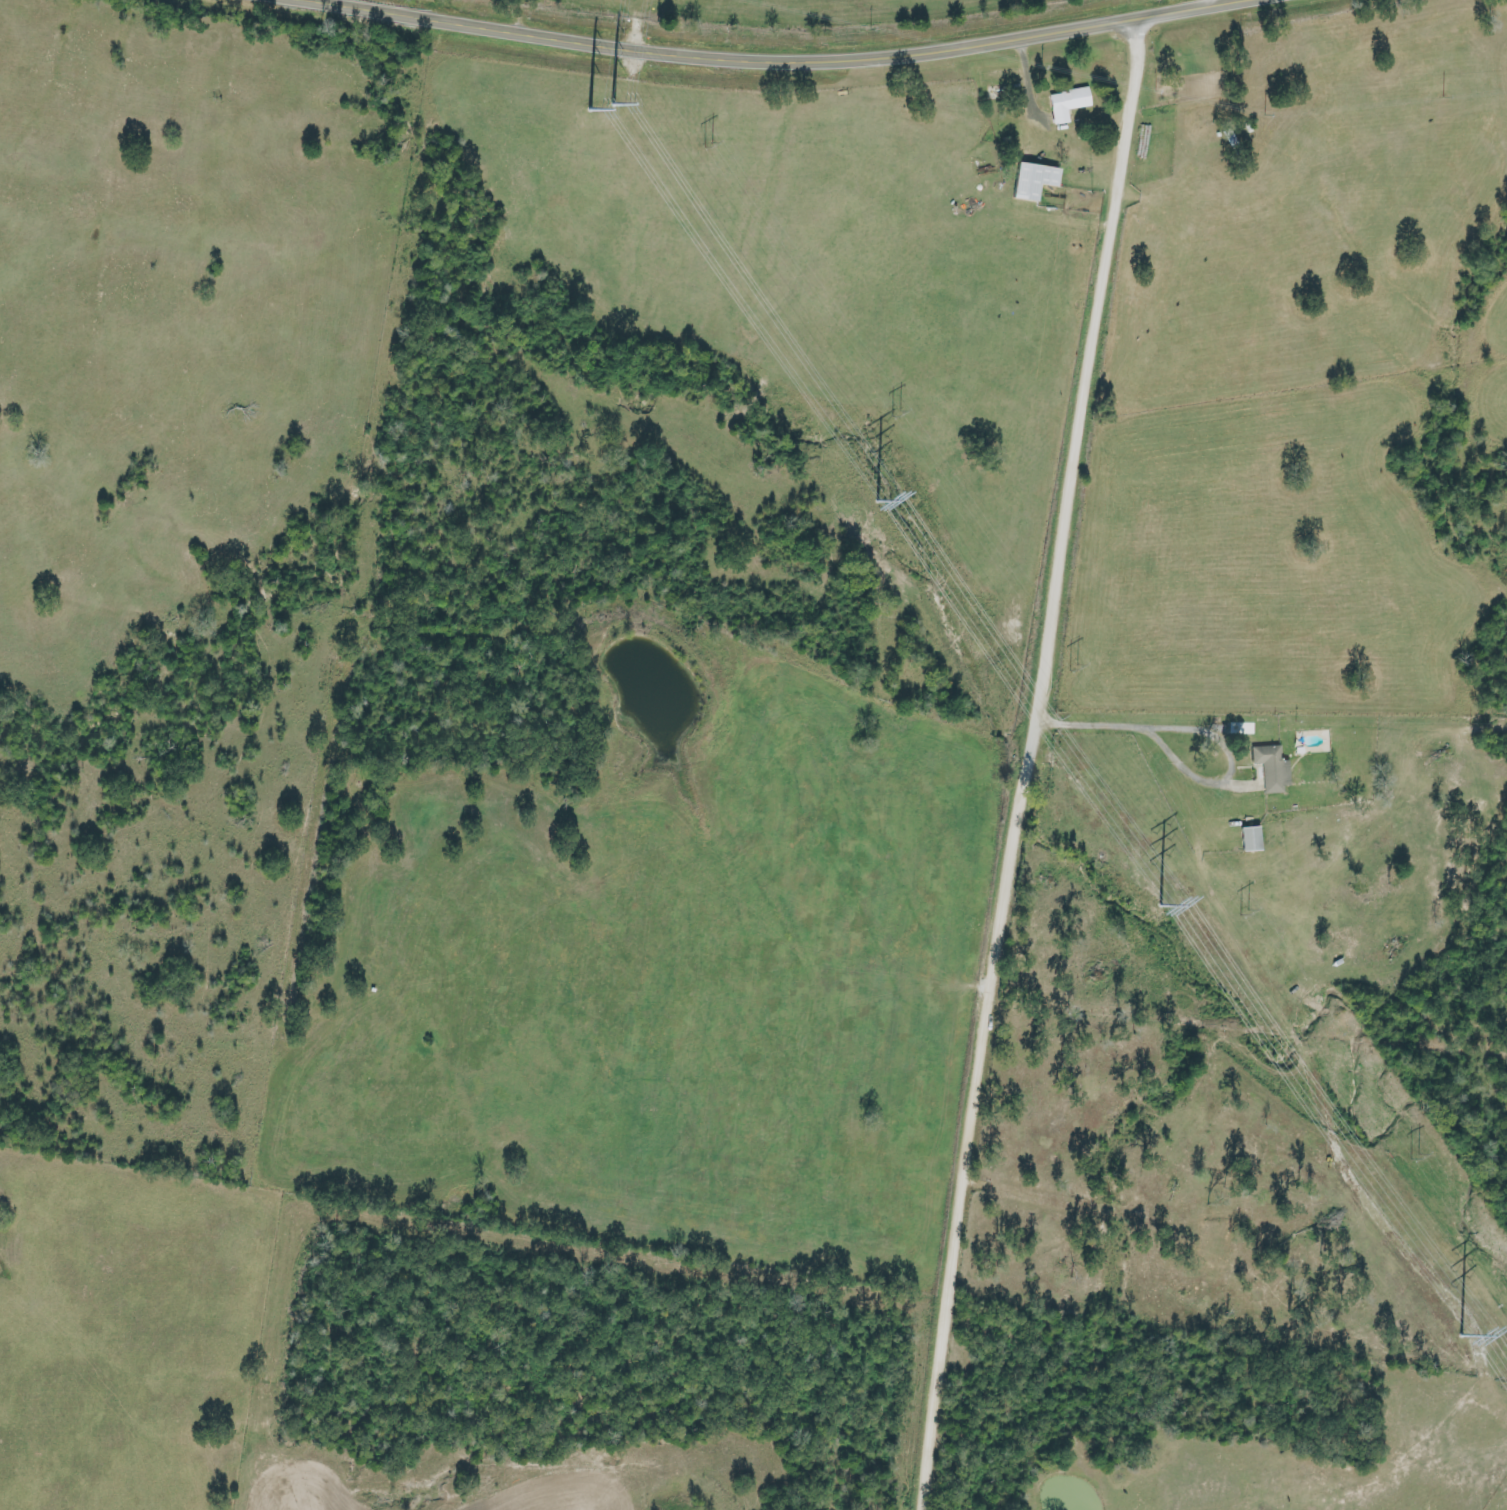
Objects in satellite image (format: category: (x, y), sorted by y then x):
road: (775, 60)
power tower: (598, 99)
building: (1067, 104)
power tower: (706, 148)
building: (1034, 181)
power tower: (894, 416)
power tower: (872, 493)
power tower: (1067, 669)
road: (1035, 761)
building: (1272, 768)
building: (1251, 838)
power tower: (1155, 895)
power tower: (1221, 914)
power tower: (1393, 1156)
power tower: (1458, 1326)

